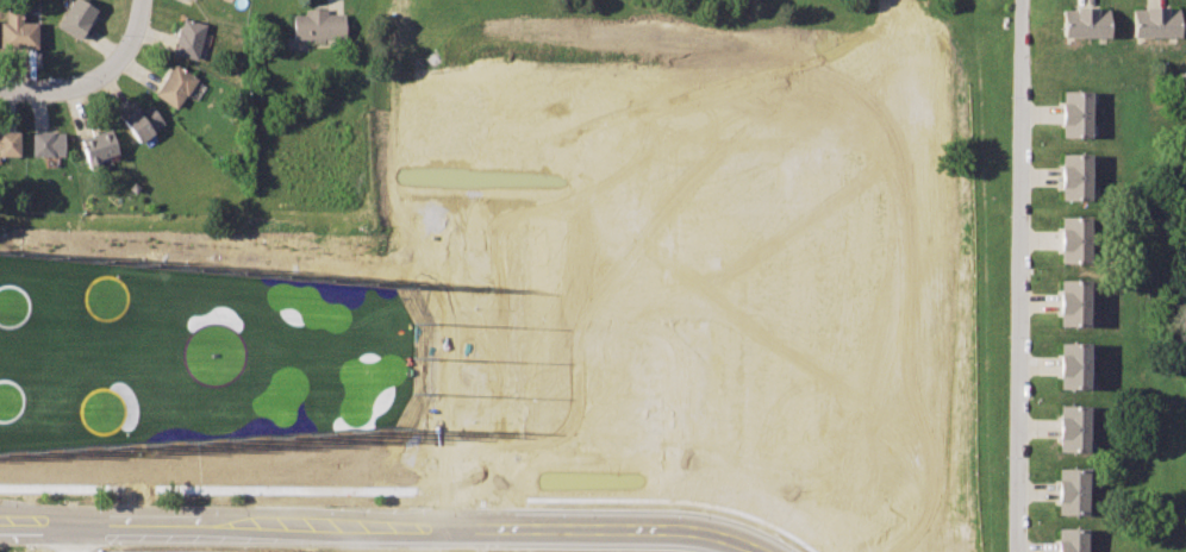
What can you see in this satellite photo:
building: (75, 18)
building: (1073, 19)
building: (1096, 19)
building: (1143, 19)
building: (1166, 19)
building: (318, 25)
building: (18, 32)
building: (191, 38)
road: (94, 79)
building: (1182, 79)
building: (175, 87)
building: (1074, 99)
building: (143, 121)
building: (1074, 121)
building: (8, 142)
building: (45, 143)
building: (99, 145)
building: (1073, 162)
building: (1073, 184)
building: (1073, 225)
building: (1073, 247)
road: (1018, 275)
building: (1073, 288)
building: (1072, 310)
building: (1073, 351)
building: (1072, 374)
building: (1072, 414)
building: (1072, 437)
building: (1070, 477)
building: (51, 484)
building: (1070, 500)
road: (387, 526)
building: (1070, 538)
building: (1068, 550)

